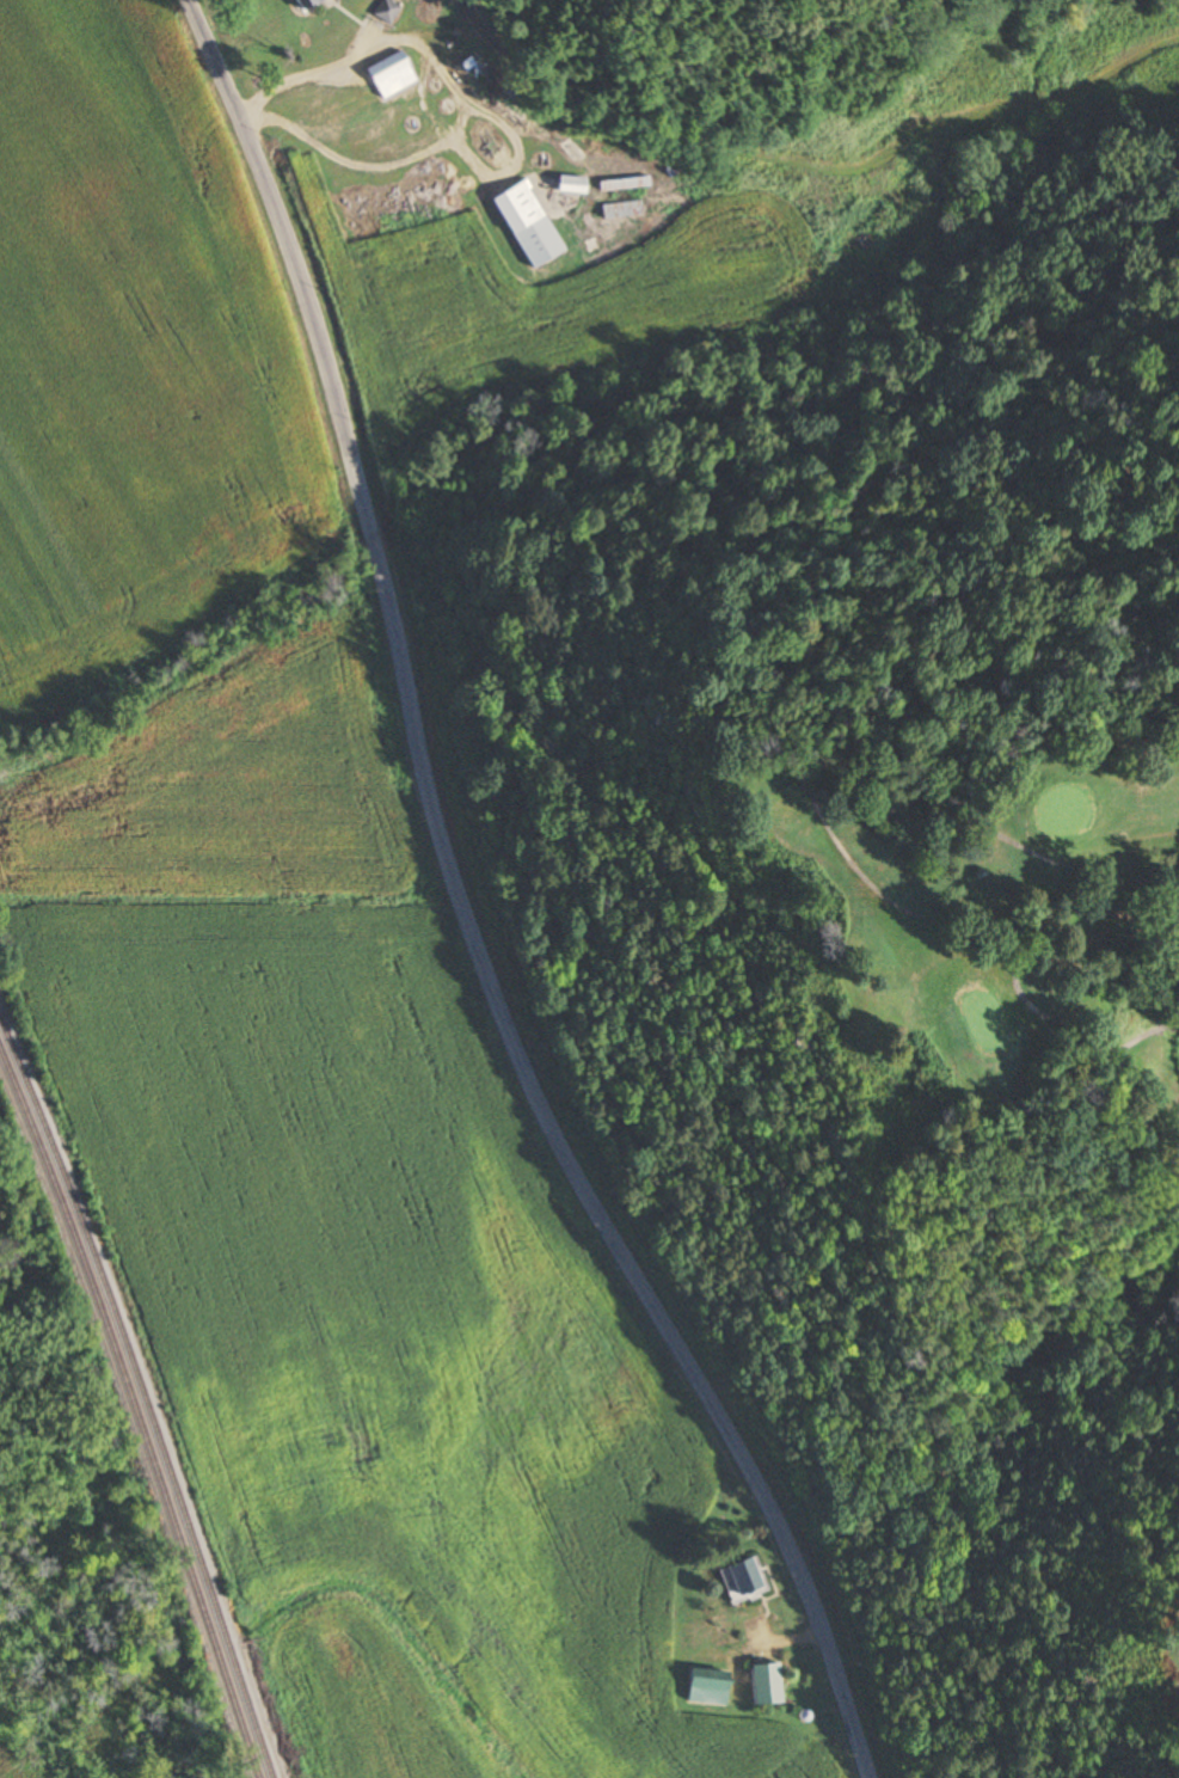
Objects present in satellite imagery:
road: (295, 257)
road: (373, 545)
road: (808, 824)
crop: (299, 1000)
road: (584, 1187)
park: (933, 1197)
railway: (143, 1397)
railway: (135, 1411)

